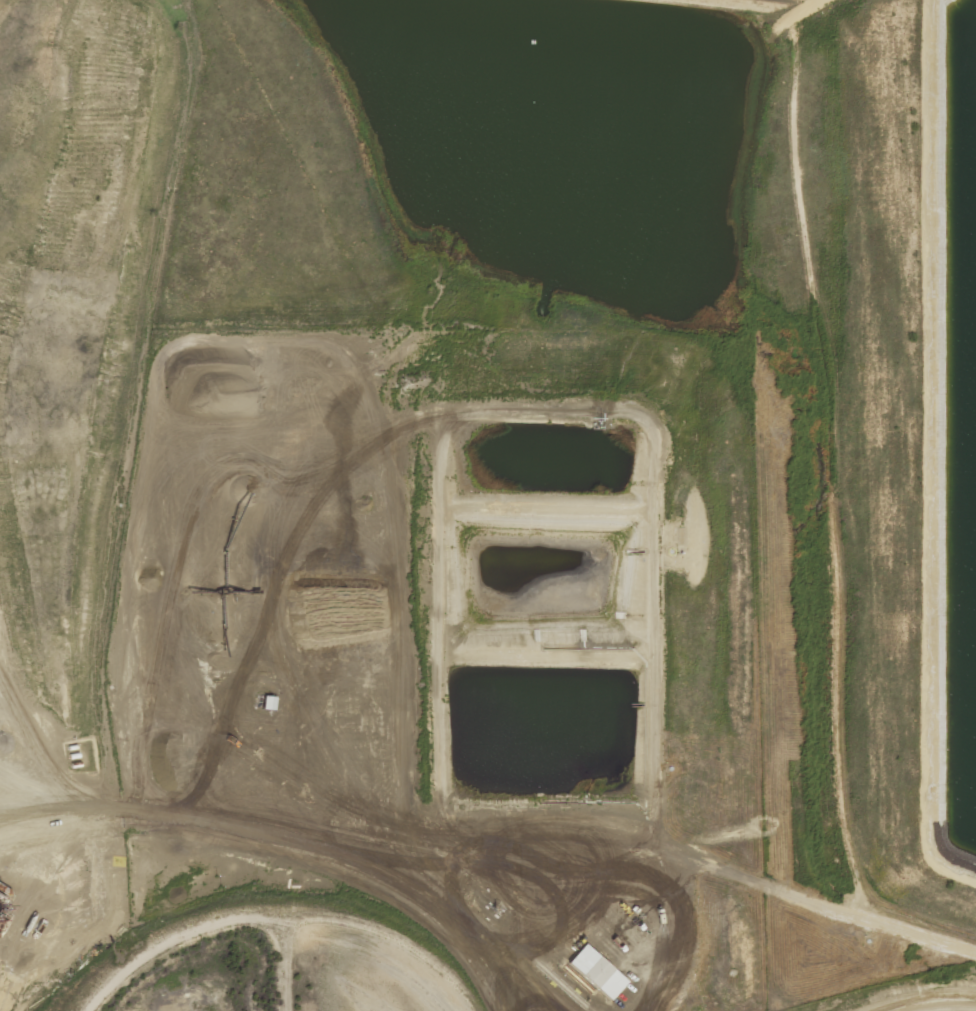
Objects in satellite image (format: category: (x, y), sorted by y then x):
power plant: (488, 505)
building: (268, 702)
building: (596, 971)

